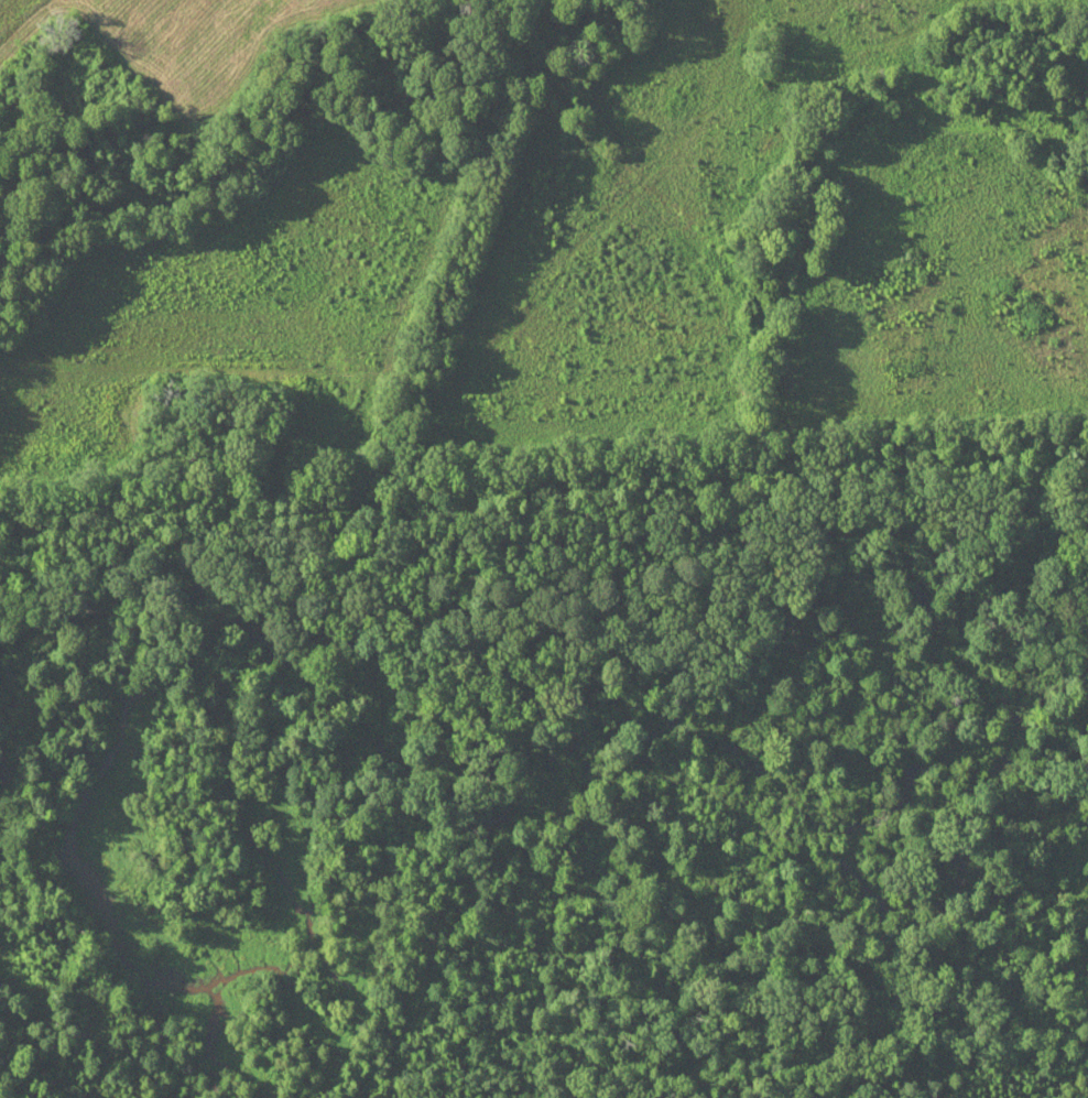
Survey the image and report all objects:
railway: (544, 497)

